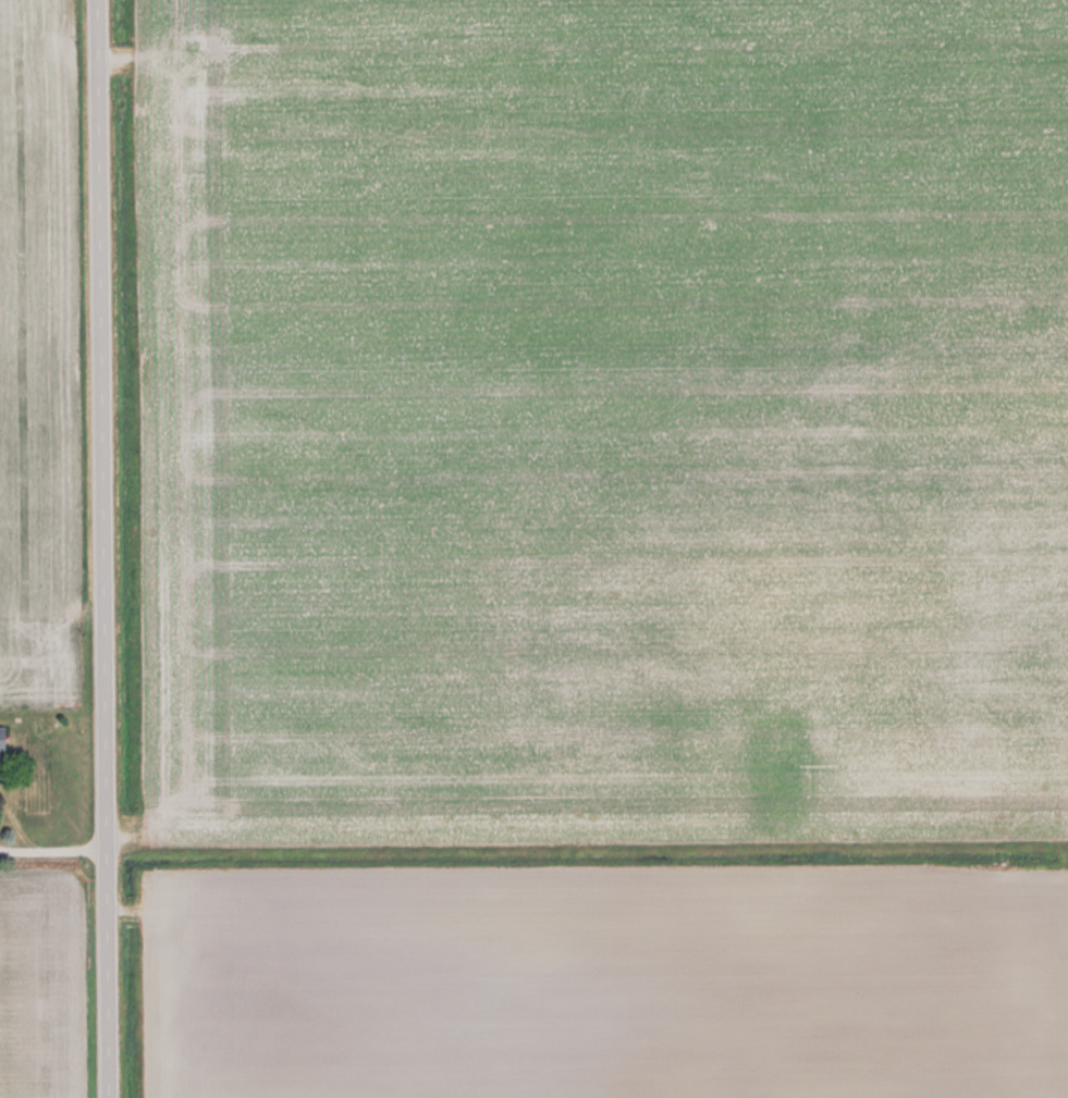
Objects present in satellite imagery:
road: (113, 548)
building: (3, 744)
road: (58, 843)
road: (128, 852)

